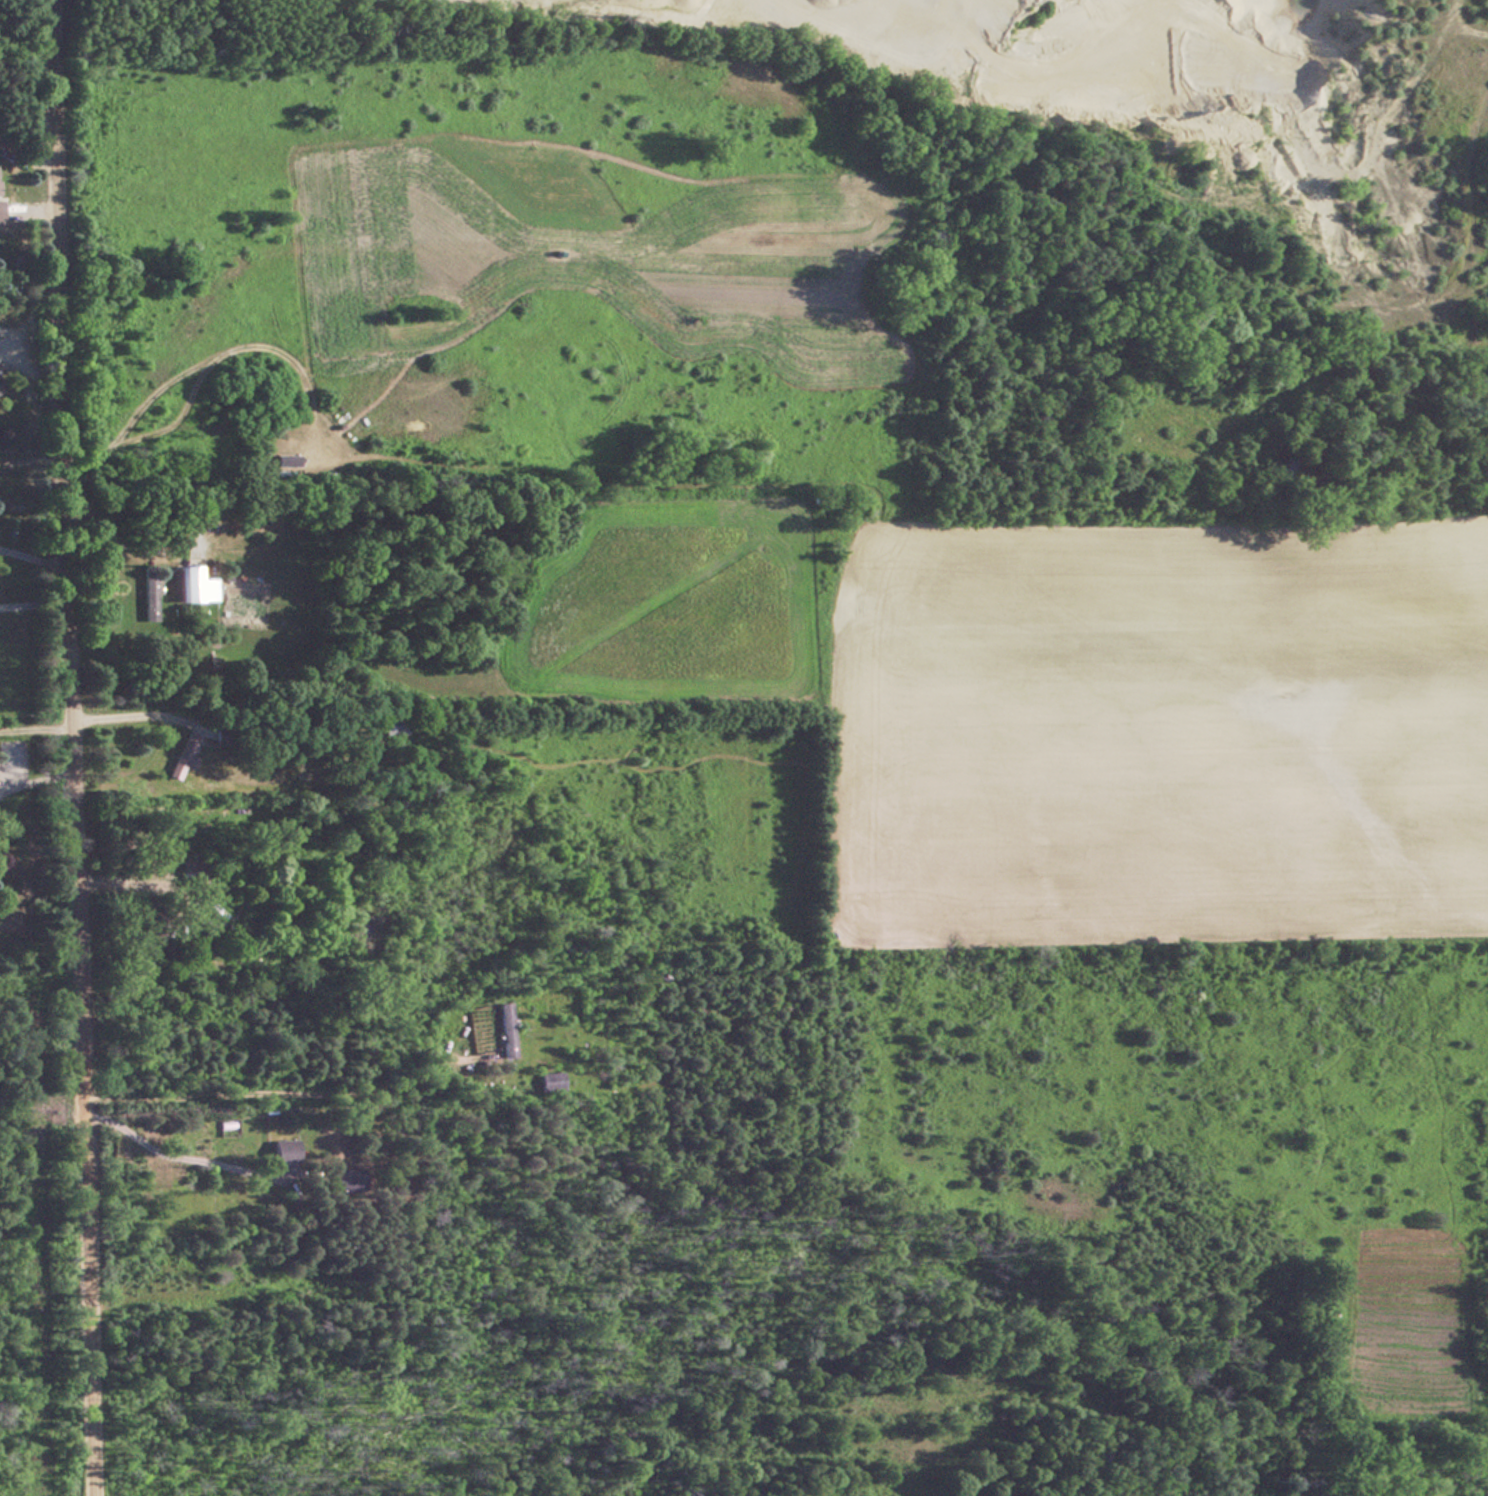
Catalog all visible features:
park: (18, 20)
road: (31, 558)
building: (189, 584)
road: (32, 602)
building: (394, 724)
building: (218, 734)
road: (71, 748)
building: (186, 753)
building: (198, 873)
building: (505, 1030)
building: (550, 1081)
building: (283, 1149)
road: (176, 1156)
building: (345, 1179)

